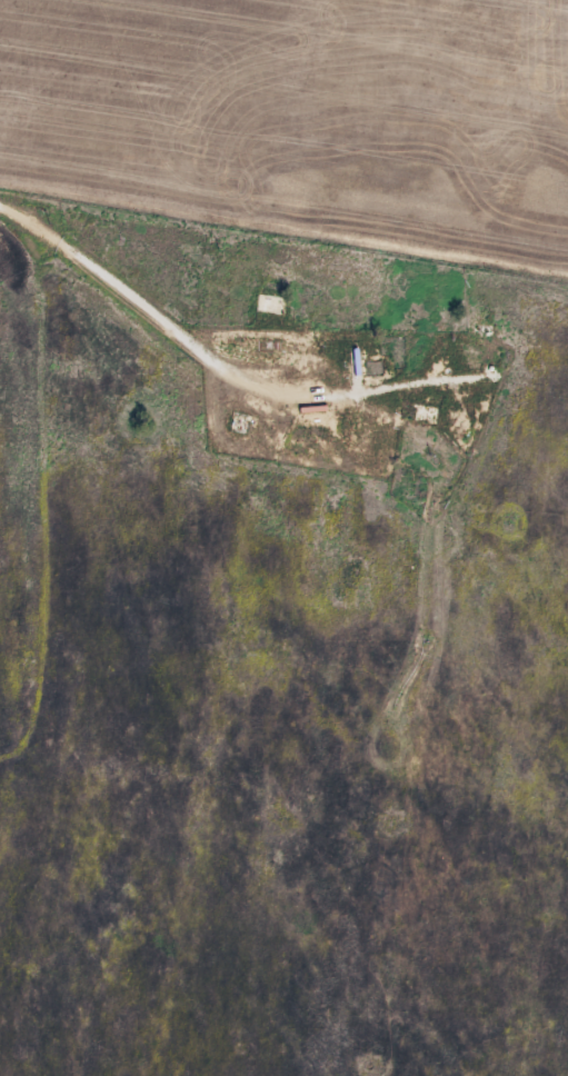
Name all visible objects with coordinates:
crop: (300, 121)
road: (113, 287)

